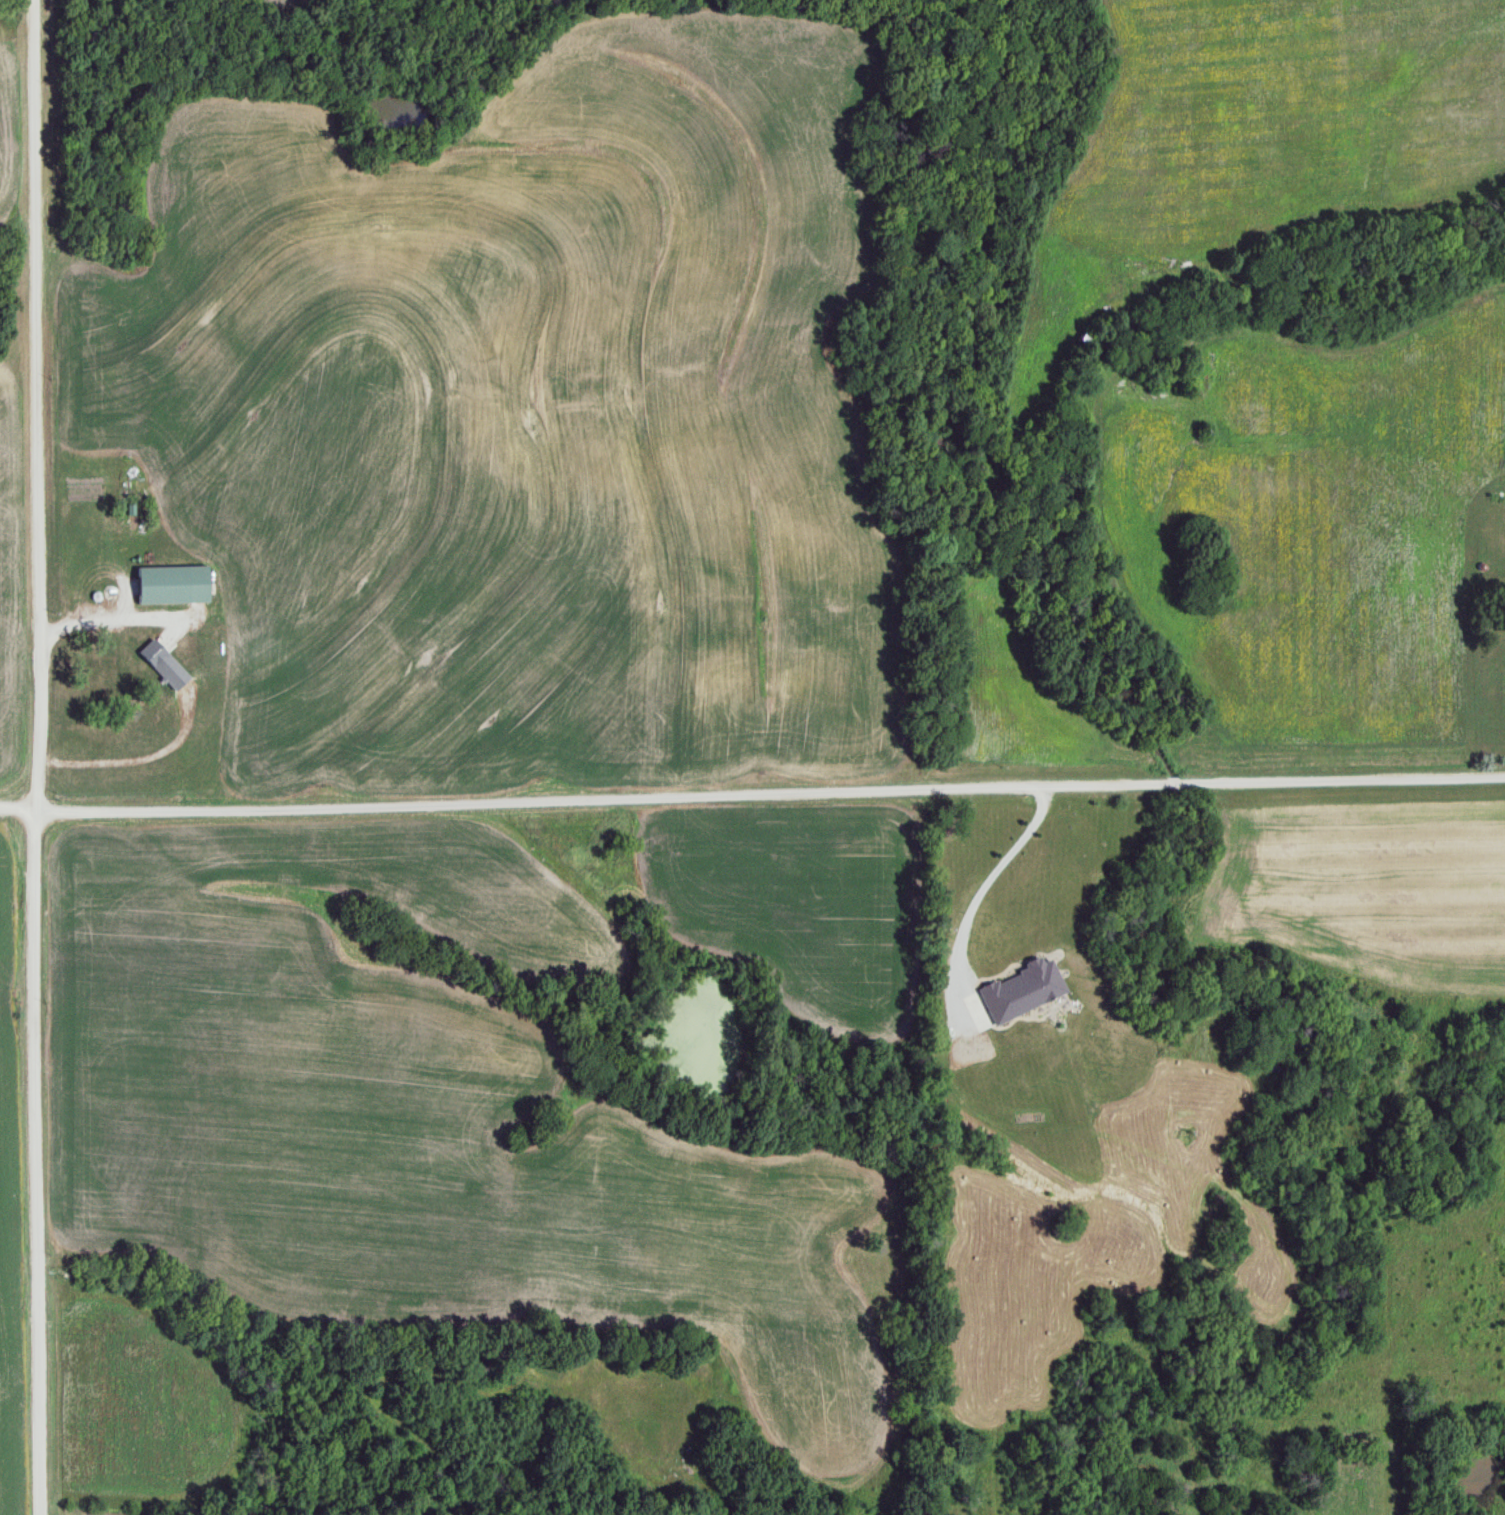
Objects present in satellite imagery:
building: (168, 583)
building: (160, 663)
road: (42, 757)
road: (752, 789)

